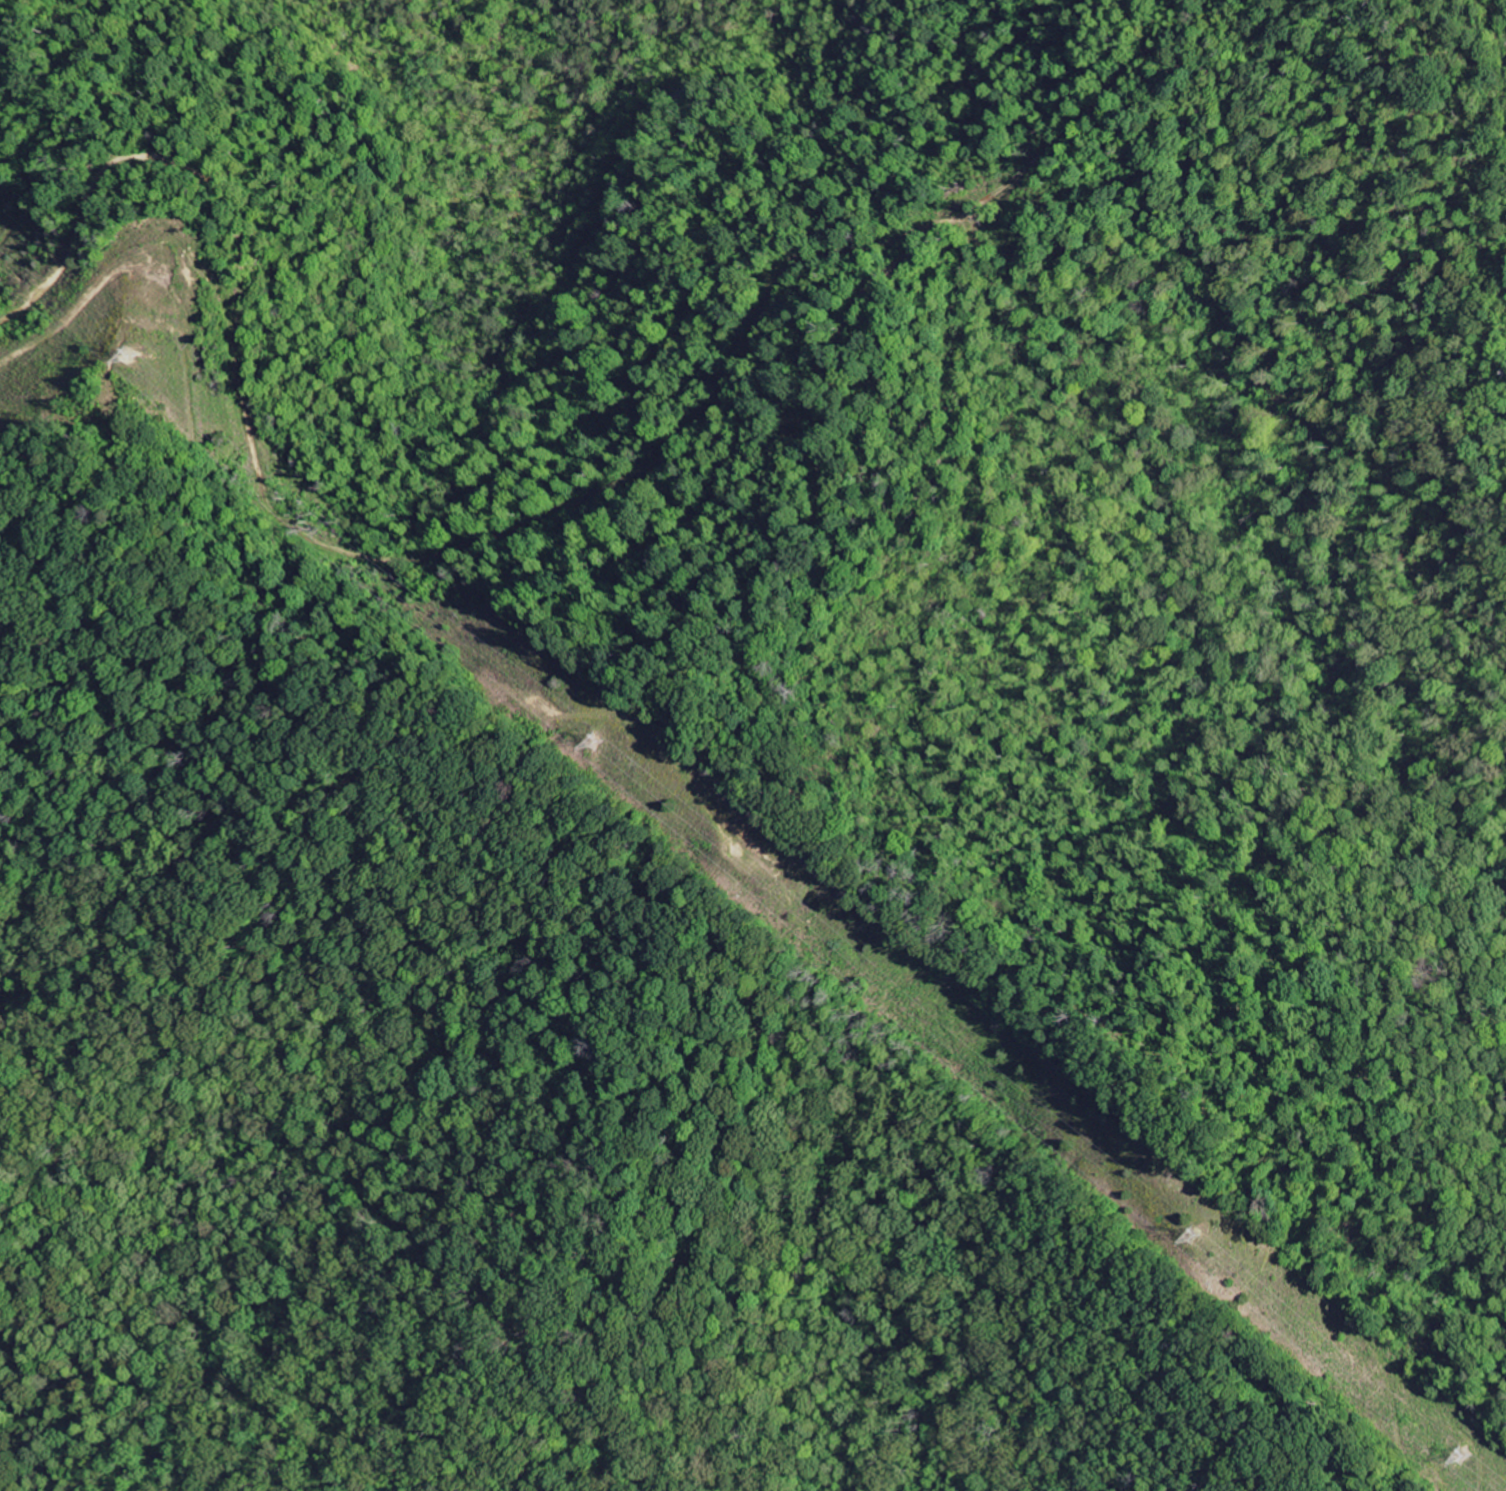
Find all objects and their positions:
power tower: (1191, 1236)
power tower: (1454, 1458)

